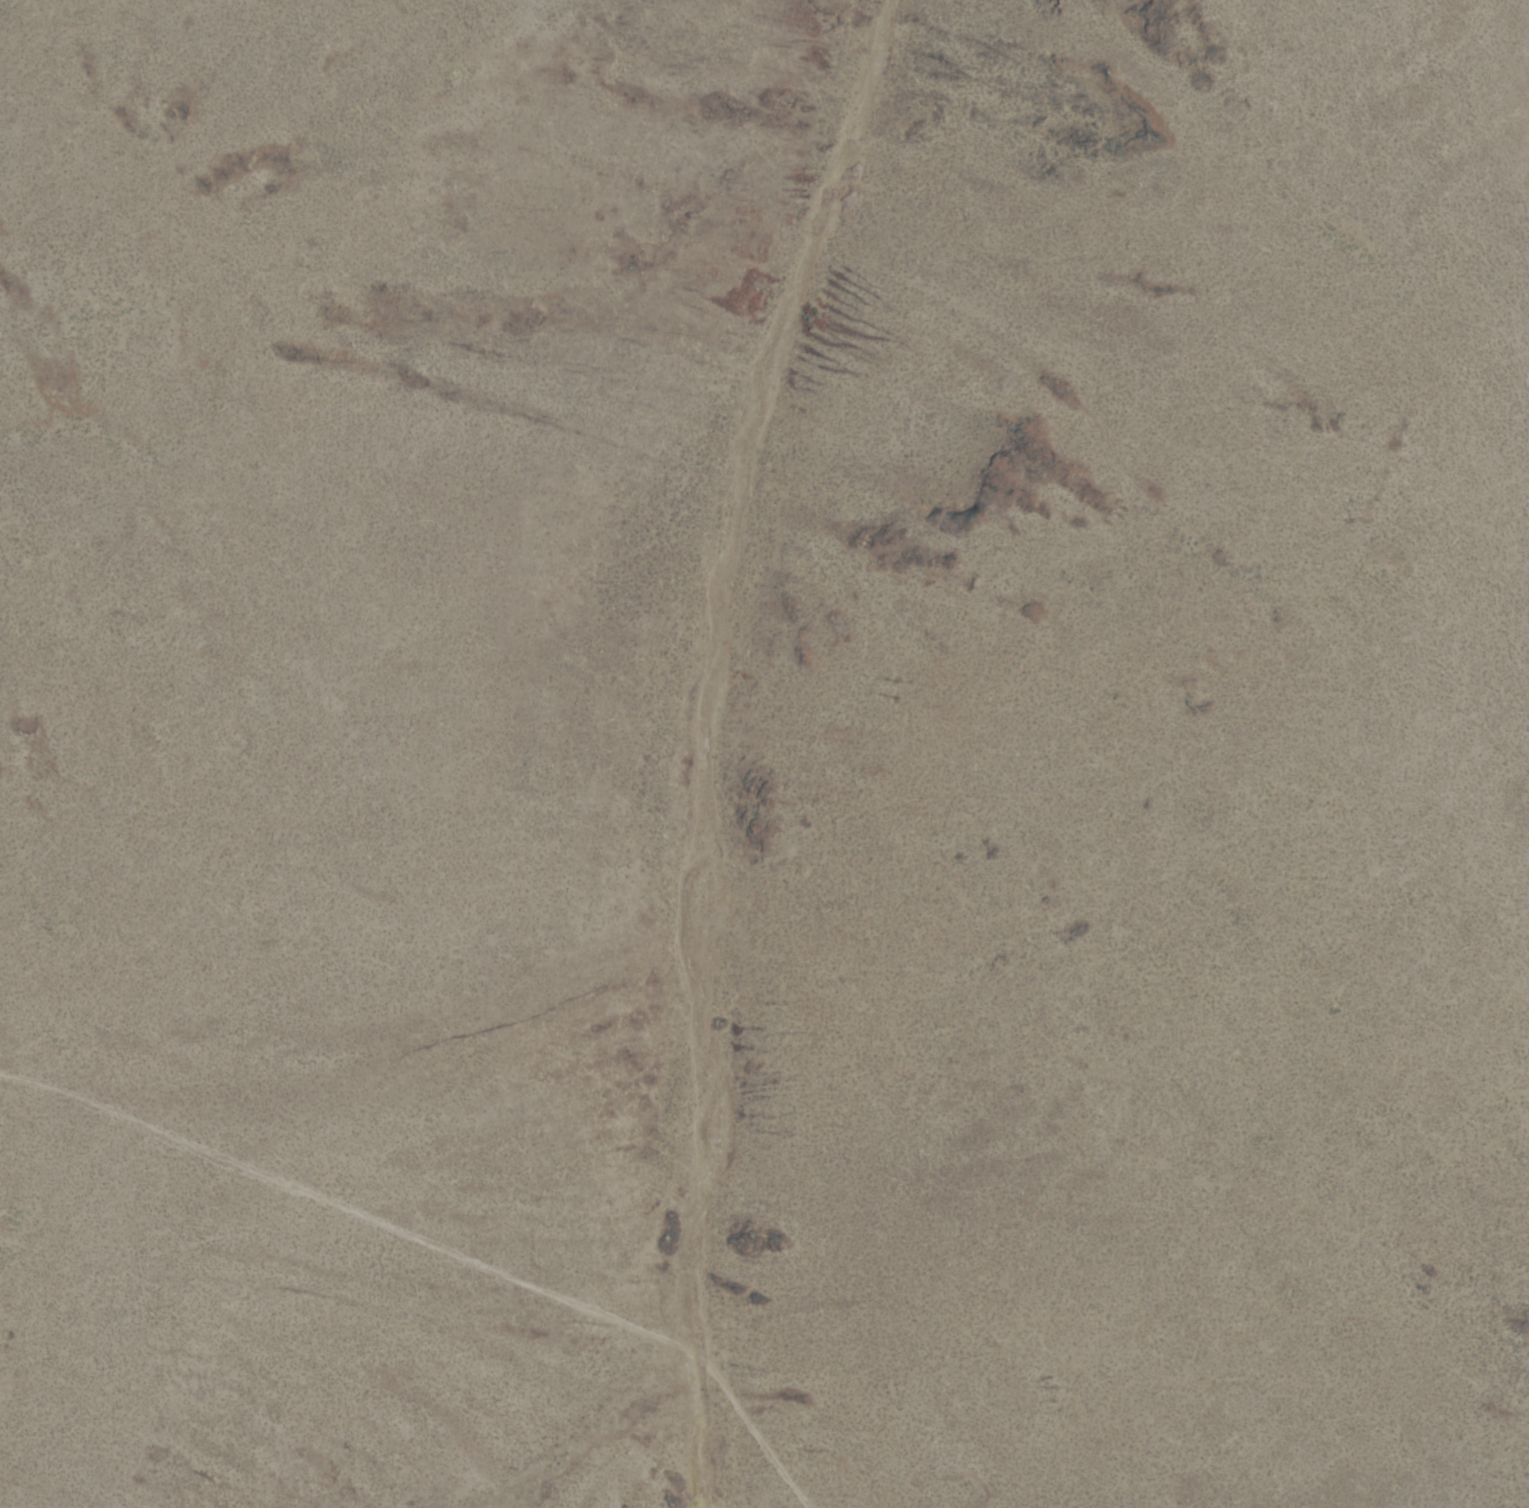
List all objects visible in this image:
road: (438, 1247)

